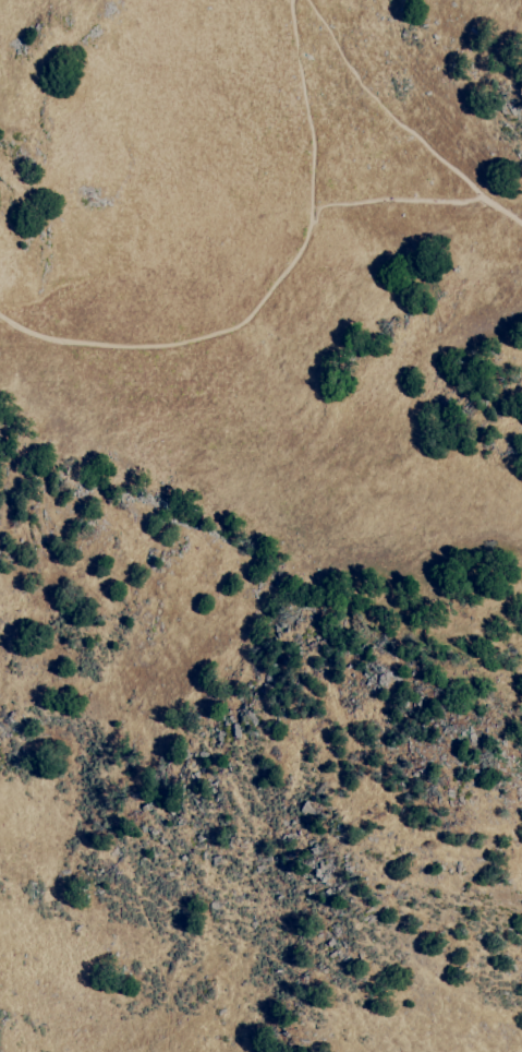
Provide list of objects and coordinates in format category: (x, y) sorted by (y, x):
road: (398, 122)
road: (274, 290)

